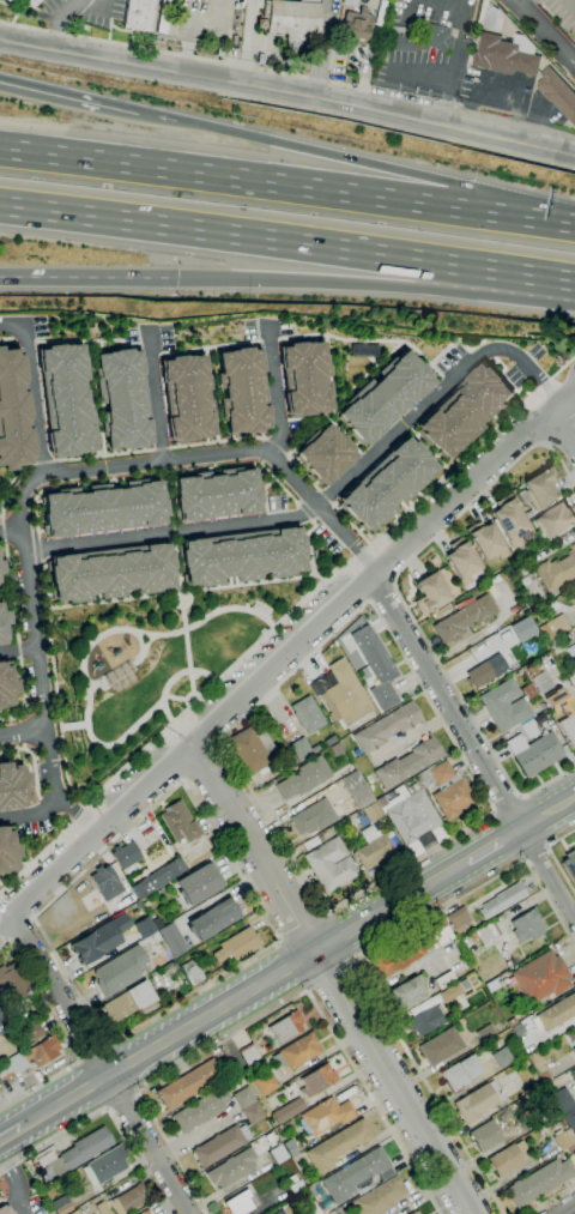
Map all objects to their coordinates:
road: (510, 0)
building: (5, 1)
building: (10, 1)
building: (31, 2)
road: (569, 5)
building: (139, 14)
building: (486, 14)
building: (165, 19)
building: (291, 20)
road: (61, 23)
building: (357, 26)
road: (541, 34)
building: (432, 37)
road: (247, 41)
building: (400, 42)
building: (219, 52)
road: (455, 52)
building: (506, 55)
road: (181, 56)
road: (363, 86)
road: (287, 92)
building: (557, 93)
road: (68, 99)
road: (317, 153)
road: (244, 180)
road: (532, 218)
road: (230, 234)
road: (517, 272)
road: (89, 278)
traffic signals: (177, 279)
road: (321, 282)
building: (364, 349)
building: (304, 379)
road: (35, 387)
building: (242, 391)
road: (277, 391)
road: (157, 395)
building: (186, 398)
building: (383, 398)
road: (568, 398)
building: (65, 400)
building: (121, 400)
building: (462, 411)
building: (12, 415)
road: (568, 419)
road: (471, 449)
building: (325, 454)
road: (63, 475)
road: (157, 475)
building: (386, 483)
building: (540, 489)
building: (216, 495)
road: (331, 496)
building: (103, 508)
road: (305, 514)
building: (509, 520)
building: (557, 520)
road: (13, 531)
building: (486, 540)
road: (310, 546)
road: (38, 548)
road: (363, 551)
building: (242, 555)
building: (461, 561)
building: (0, 568)
building: (556, 570)
building: (110, 572)
road: (253, 581)
building: (431, 593)
road: (113, 599)
street lamp: (247, 604)
road: (405, 604)
building: (464, 618)
building: (2, 626)
building: (553, 628)
road: (187, 645)
building: (571, 651)
road: (20, 652)
road: (89, 652)
road: (47, 657)
road: (285, 660)
park: (149, 666)
building: (376, 666)
road: (127, 669)
building: (485, 671)
street lamp: (194, 676)
building: (570, 678)
road: (176, 680)
road: (218, 680)
building: (540, 682)
building: (6, 684)
road: (56, 691)
building: (528, 691)
building: (340, 694)
street lamp: (84, 696)
building: (504, 706)
building: (562, 712)
building: (307, 715)
road: (74, 726)
building: (386, 727)
building: (528, 729)
road: (25, 733)
road: (224, 733)
building: (329, 742)
road: (474, 747)
building: (302, 749)
building: (335, 749)
building: (250, 751)
building: (534, 753)
building: (408, 763)
building: (303, 778)
building: (12, 787)
building: (357, 790)
building: (447, 790)
road: (484, 793)
building: (381, 802)
road: (509, 805)
road: (35, 814)
road: (549, 814)
road: (83, 816)
building: (412, 817)
building: (313, 819)
road: (86, 821)
building: (178, 823)
building: (373, 838)
road: (559, 838)
road: (495, 846)
building: (7, 852)
road: (535, 853)
building: (126, 854)
road: (38, 859)
building: (570, 864)
building: (329, 865)
road: (562, 870)
building: (158, 878)
building: (105, 882)
building: (198, 884)
building: (502, 900)
building: (458, 918)
building: (213, 919)
road: (266, 919)
road: (5, 922)
road: (299, 923)
building: (526, 926)
building: (144, 928)
building: (488, 934)
building: (438, 935)
building: (155, 937)
building: (99, 940)
building: (171, 940)
building: (237, 944)
building: (397, 958)
road: (356, 960)
building: (120, 971)
building: (192, 971)
road: (329, 976)
building: (14, 978)
road: (333, 978)
building: (540, 978)
building: (444, 980)
building: (492, 985)
building: (450, 992)
building: (407, 993)
road: (244, 996)
building: (128, 1002)
building: (2, 1009)
road: (272, 1011)
building: (555, 1014)
building: (425, 1020)
building: (2, 1023)
building: (286, 1027)
building: (32, 1031)
building: (485, 1033)
road: (65, 1035)
building: (571, 1039)
building: (441, 1046)
road: (93, 1050)
building: (249, 1053)
building: (30, 1057)
building: (502, 1057)
road: (102, 1063)
building: (285, 1063)
building: (539, 1065)
building: (460, 1074)
building: (573, 1074)
building: (316, 1081)
building: (189, 1083)
building: (0, 1100)
road: (122, 1103)
building: (476, 1104)
building: (248, 1105)
building: (564, 1106)
building: (199, 1111)
building: (289, 1111)
road: (105, 1112)
building: (326, 1116)
building: (558, 1118)
building: (562, 1124)
road: (11, 1134)
building: (485, 1135)
building: (563, 1138)
building: (220, 1144)
building: (337, 1146)
building: (290, 1147)
building: (571, 1150)
building: (78, 1153)
building: (277, 1154)
building: (508, 1158)
building: (105, 1165)
building: (231, 1168)
building: (356, 1174)
road: (17, 1182)
building: (540, 1182)
building: (291, 1185)
building: (380, 1197)
road: (550, 1198)
building: (128, 1200)
building: (242, 1203)
building: (61, 1206)
building: (101, 1208)
road: (568, 1209)
building: (5, 1210)
building: (73, 1212)
building: (280, 1212)
building: (145, 1213)
building: (414, 1213)

